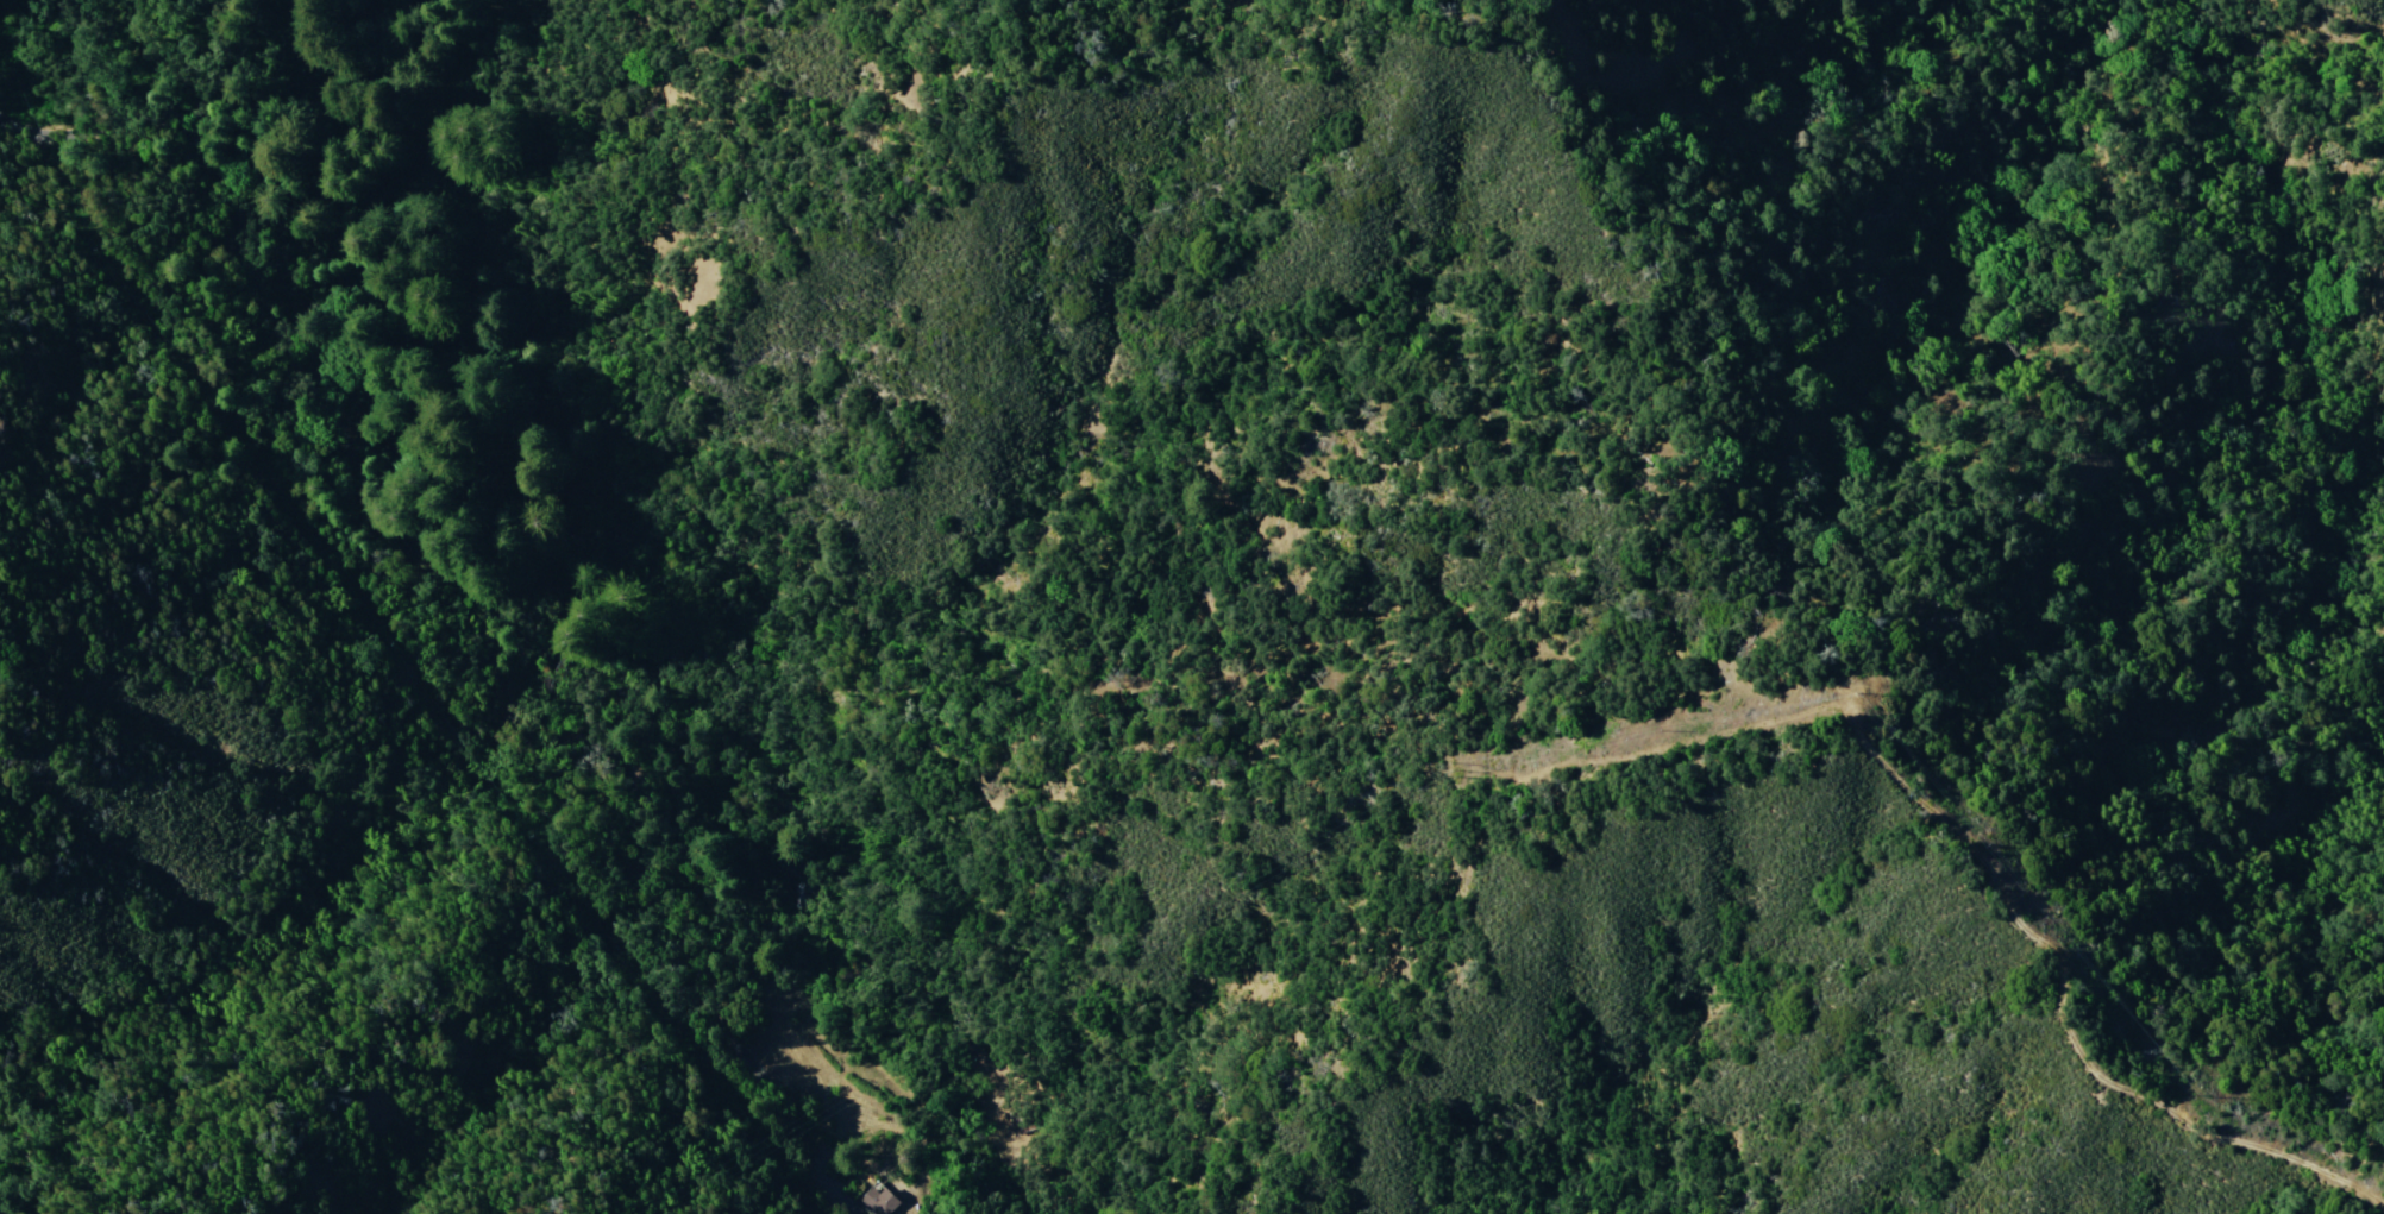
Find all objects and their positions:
road: (470, 605)
building: (880, 1201)

